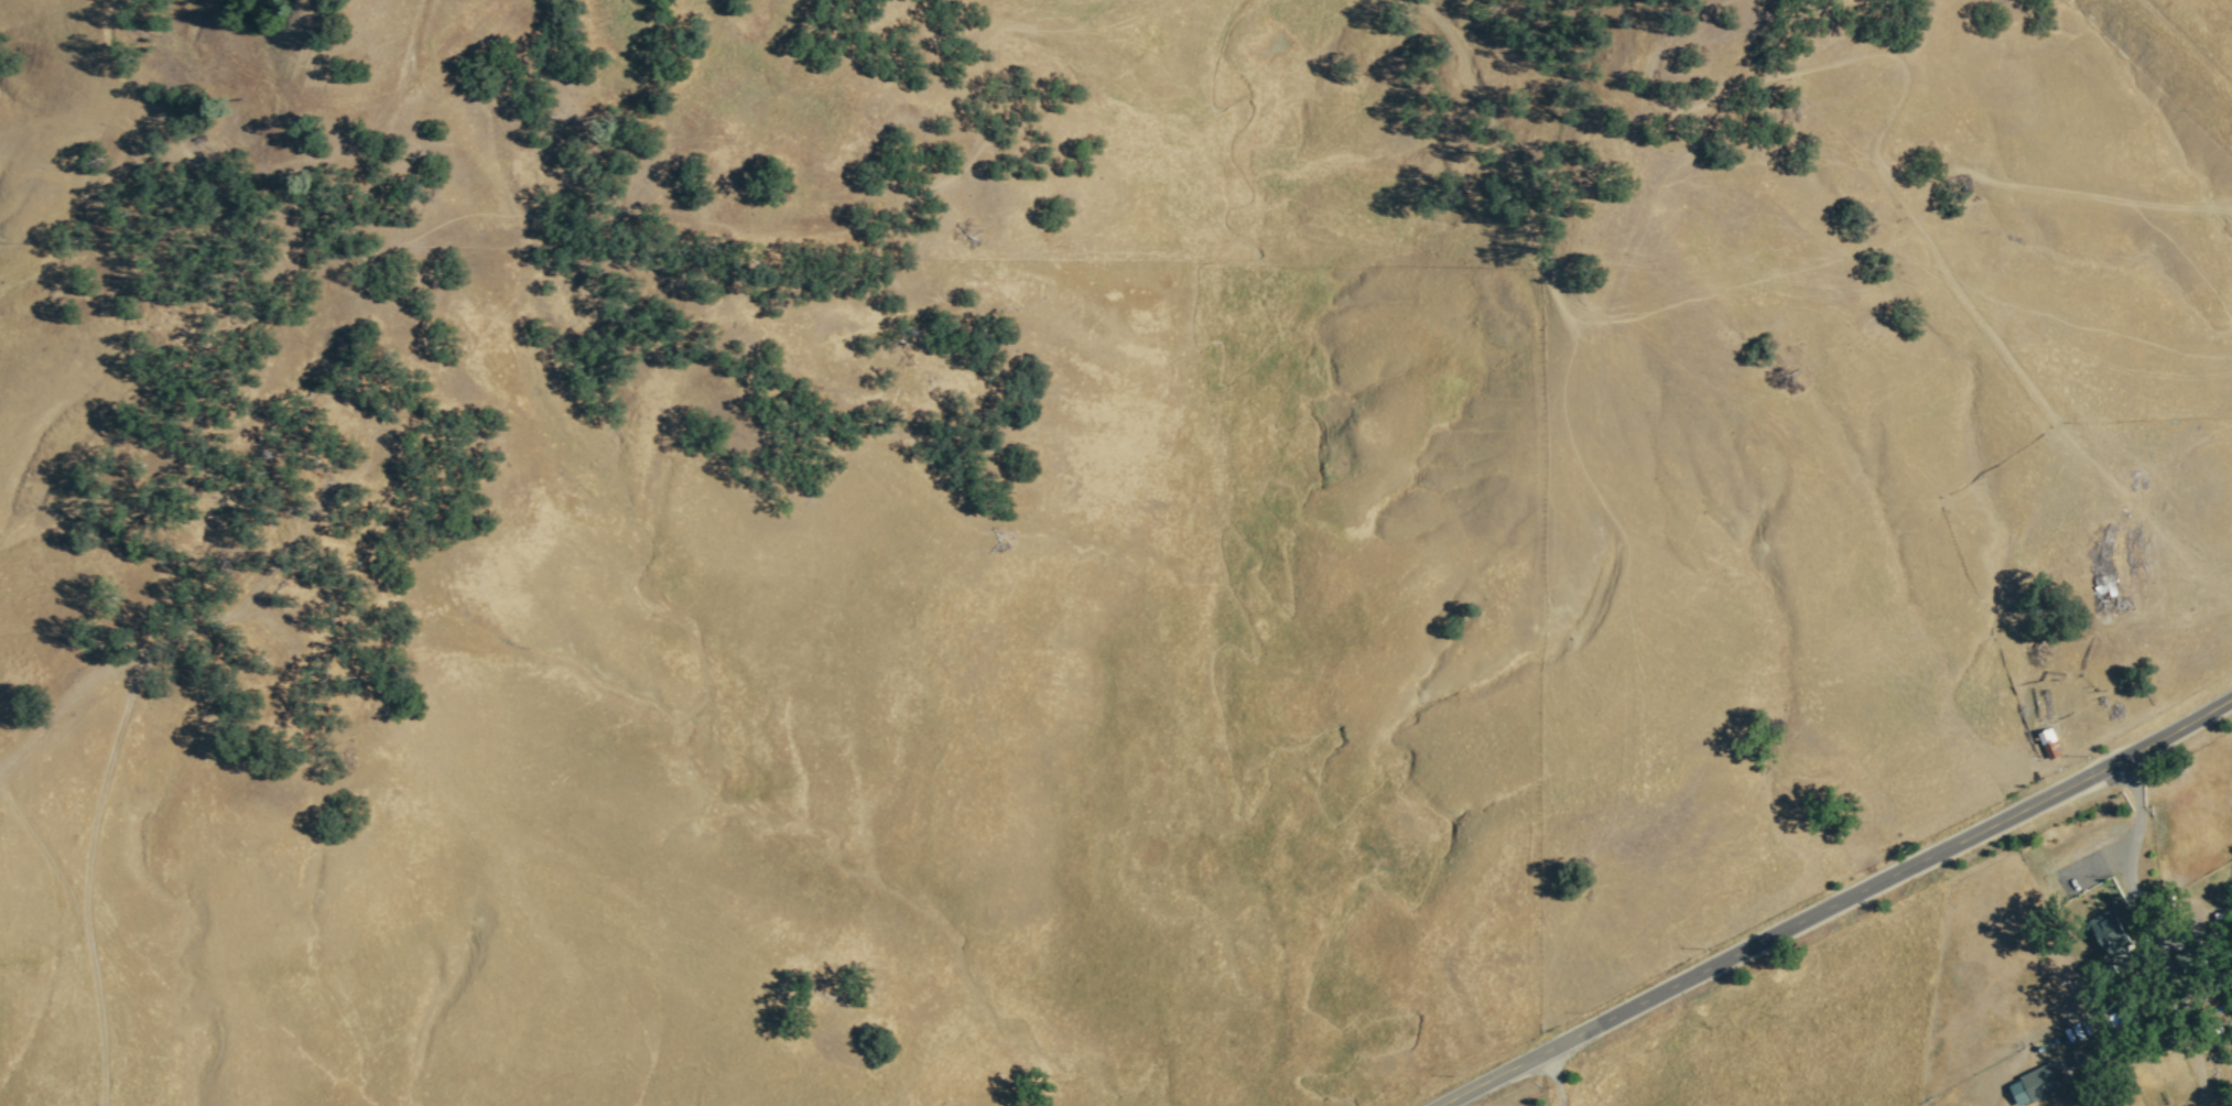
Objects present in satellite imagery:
building: (2047, 742)
road: (1834, 900)
building: (2104, 933)
road: (86, 939)
crop: (1790, 1026)
building: (2035, 1084)

